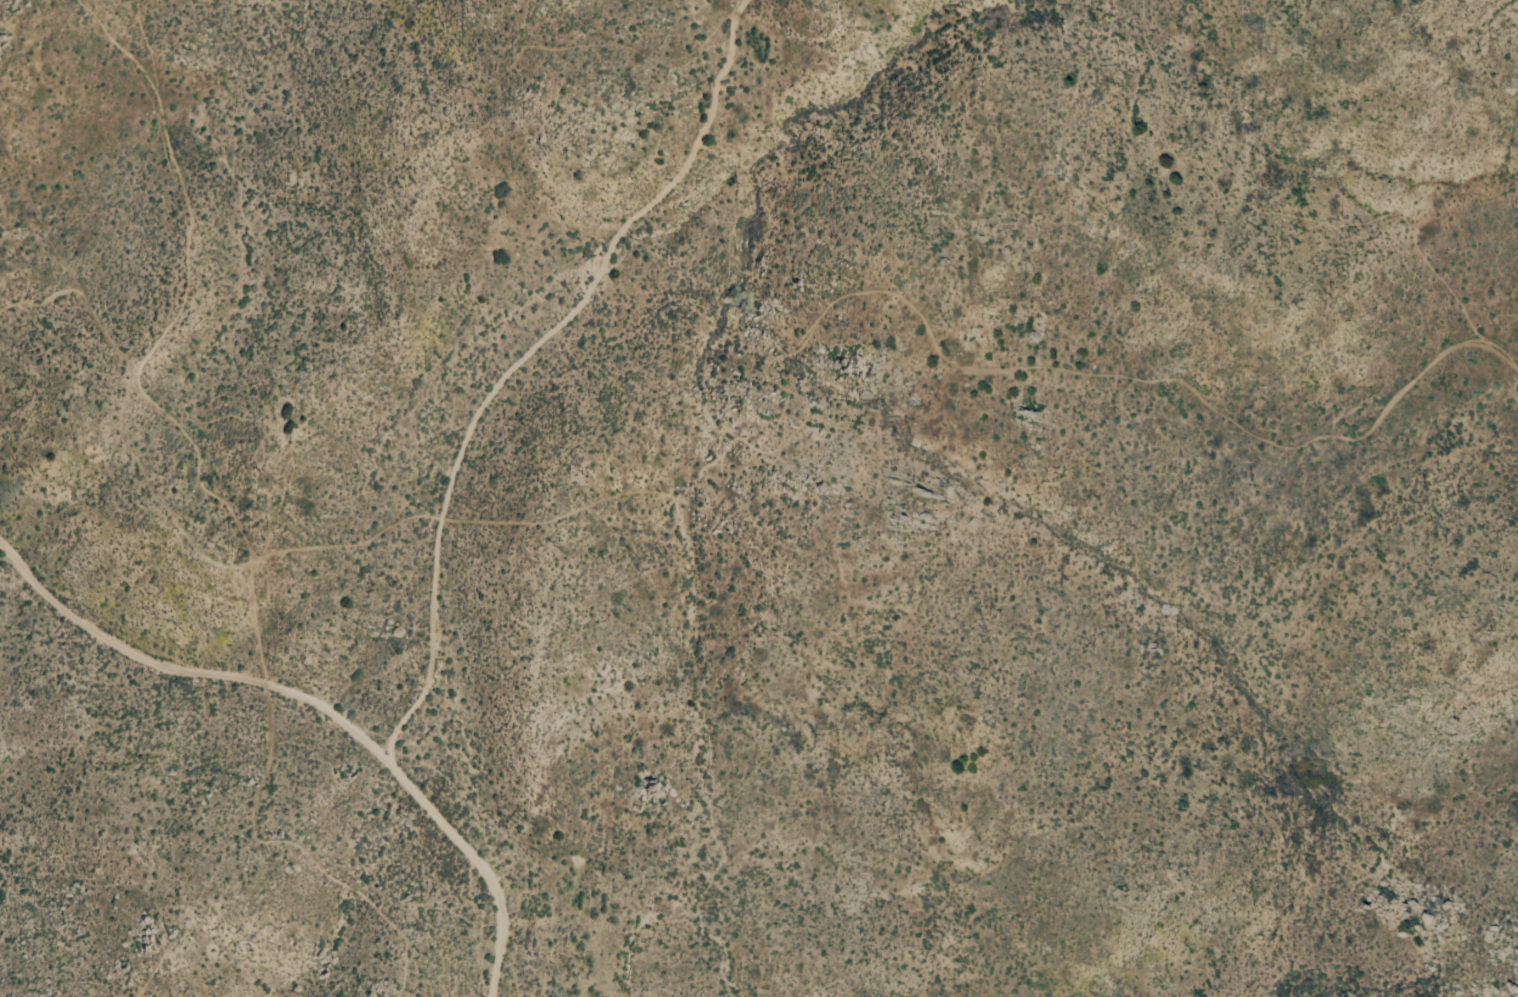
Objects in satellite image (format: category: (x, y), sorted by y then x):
road: (542, 342)
road: (346, 688)

